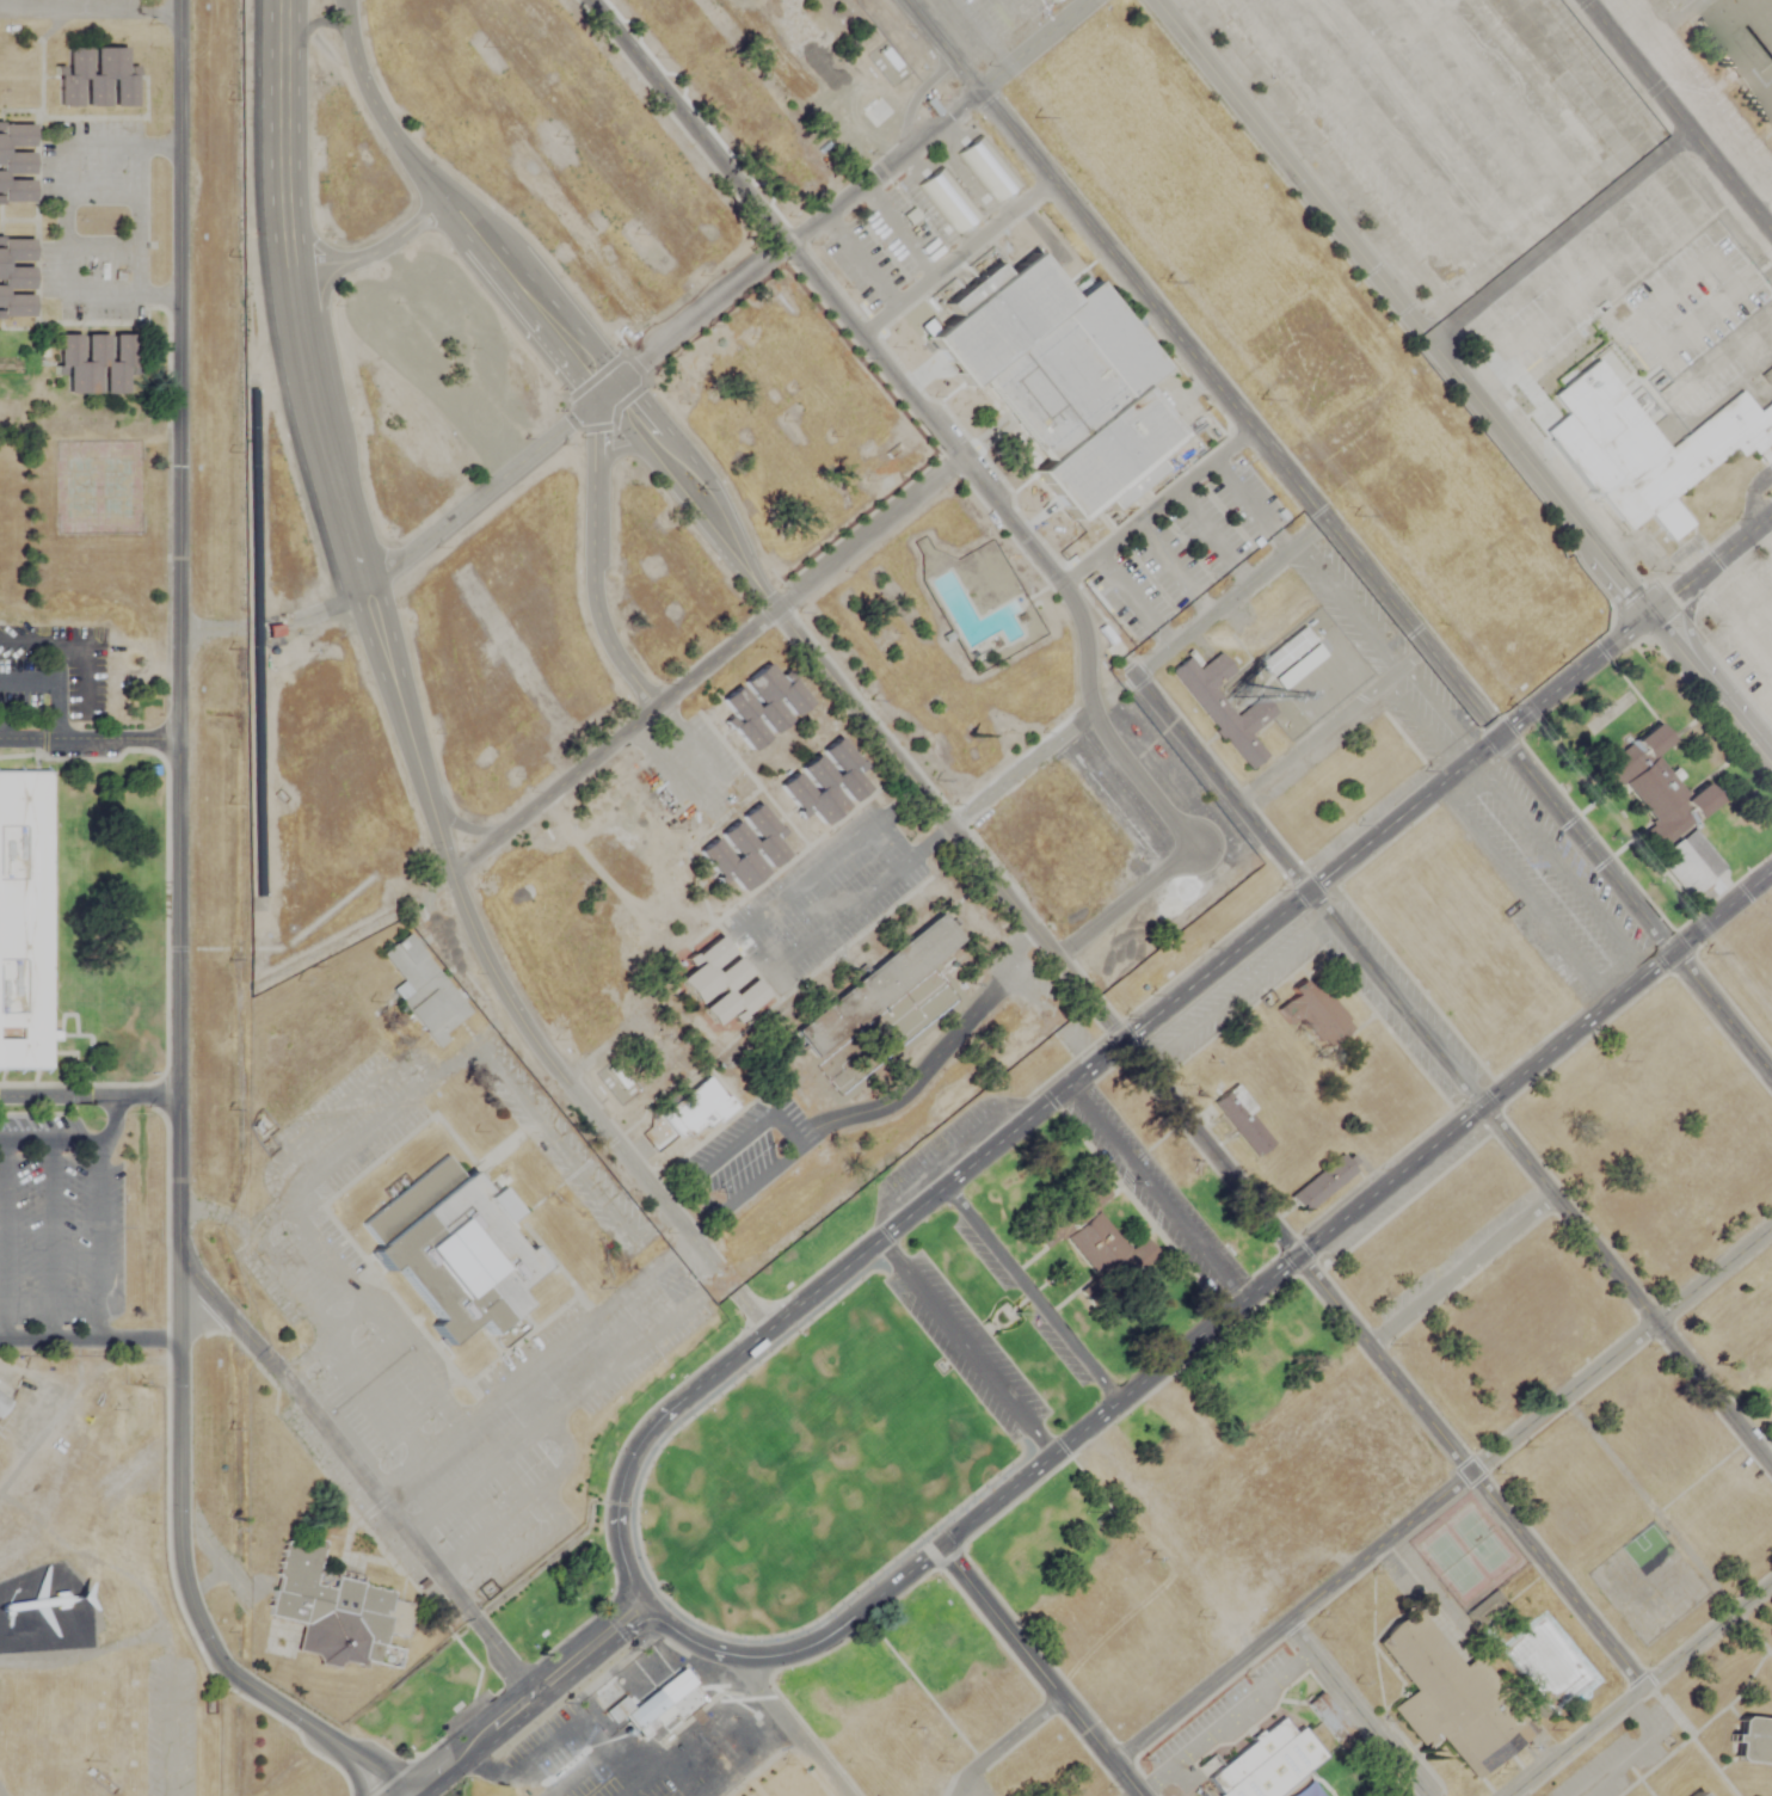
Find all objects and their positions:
road: (88, 11)
road: (1632, 17)
road: (1656, 26)
building: (1743, 43)
road: (1022, 51)
building: (98, 81)
road: (367, 90)
road: (1676, 117)
building: (16, 166)
road: (1759, 192)
road: (64, 224)
road: (1557, 236)
road: (369, 250)
building: (16, 278)
road: (854, 328)
building: (97, 359)
building: (1766, 374)
building: (1060, 379)
road: (1460, 385)
road: (611, 387)
road: (321, 447)
building: (1651, 448)
road: (1337, 539)
road: (595, 560)
road: (1709, 564)
road: (753, 583)
road: (1220, 604)
road: (1348, 604)
road: (210, 629)
building: (1292, 658)
road: (54, 682)
building: (763, 703)
building: (1224, 706)
road: (1328, 724)
road: (88, 734)
building: (1655, 740)
road: (1034, 756)
building: (1619, 769)
building: (826, 783)
building: (1668, 802)
road: (461, 826)
road: (513, 828)
building: (745, 849)
building: (1691, 863)
road: (1557, 867)
road: (1522, 892)
building: (24, 921)
road: (178, 949)
road: (757, 951)
building: (720, 985)
building: (879, 988)
building: (423, 991)
building: (1315, 1007)
road: (1445, 1062)
road: (1065, 1088)
road: (88, 1095)
building: (695, 1108)
road: (113, 1122)
building: (1241, 1122)
road: (49, 1145)
building: (1321, 1182)
road: (1155, 1193)
parking lot: (61, 1232)
road: (2, 1242)
building: (1093, 1242)
road: (50, 1243)
road: (99, 1243)
building: (453, 1250)
road: (1460, 1271)
road: (1030, 1293)
road: (749, 1310)
park: (998, 1317)
flagpole: (861, 1318)
road: (1212, 1323)
road: (88, 1340)
road: (1365, 1343)
road: (965, 1347)
building: (4, 1406)
park: (812, 1470)
road: (358, 1475)
road: (1441, 1494)
building: (337, 1610)
road: (1038, 1672)
road: (596, 1680)
road: (1641, 1687)
building: (1450, 1699)
building: (640, 1703)
road: (1354, 1709)
road: (515, 1710)
building: (1328, 1716)
road: (1222, 1722)
road: (787, 1726)
building: (1753, 1741)
road: (1002, 1742)
road: (764, 1751)
road: (586, 1758)
building: (1267, 1763)
road: (1419, 1794)
building: (1697, 1794)

